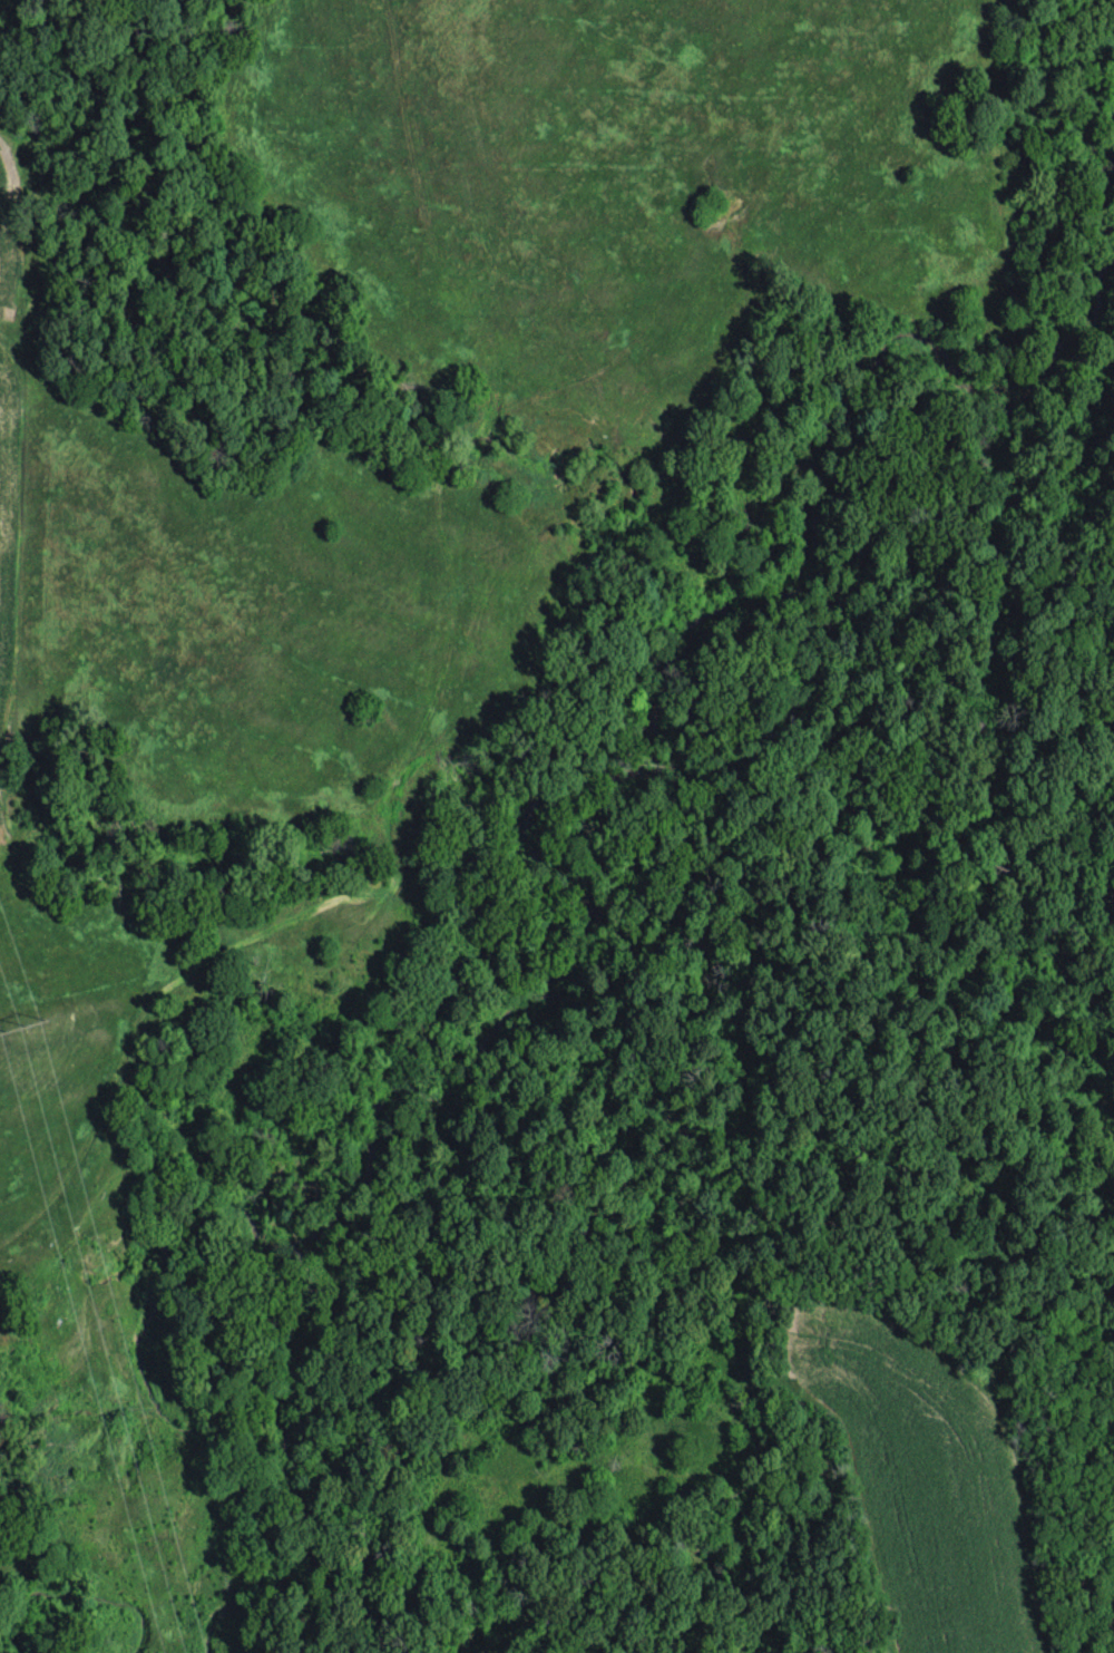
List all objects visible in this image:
power tower: (19, 1024)

